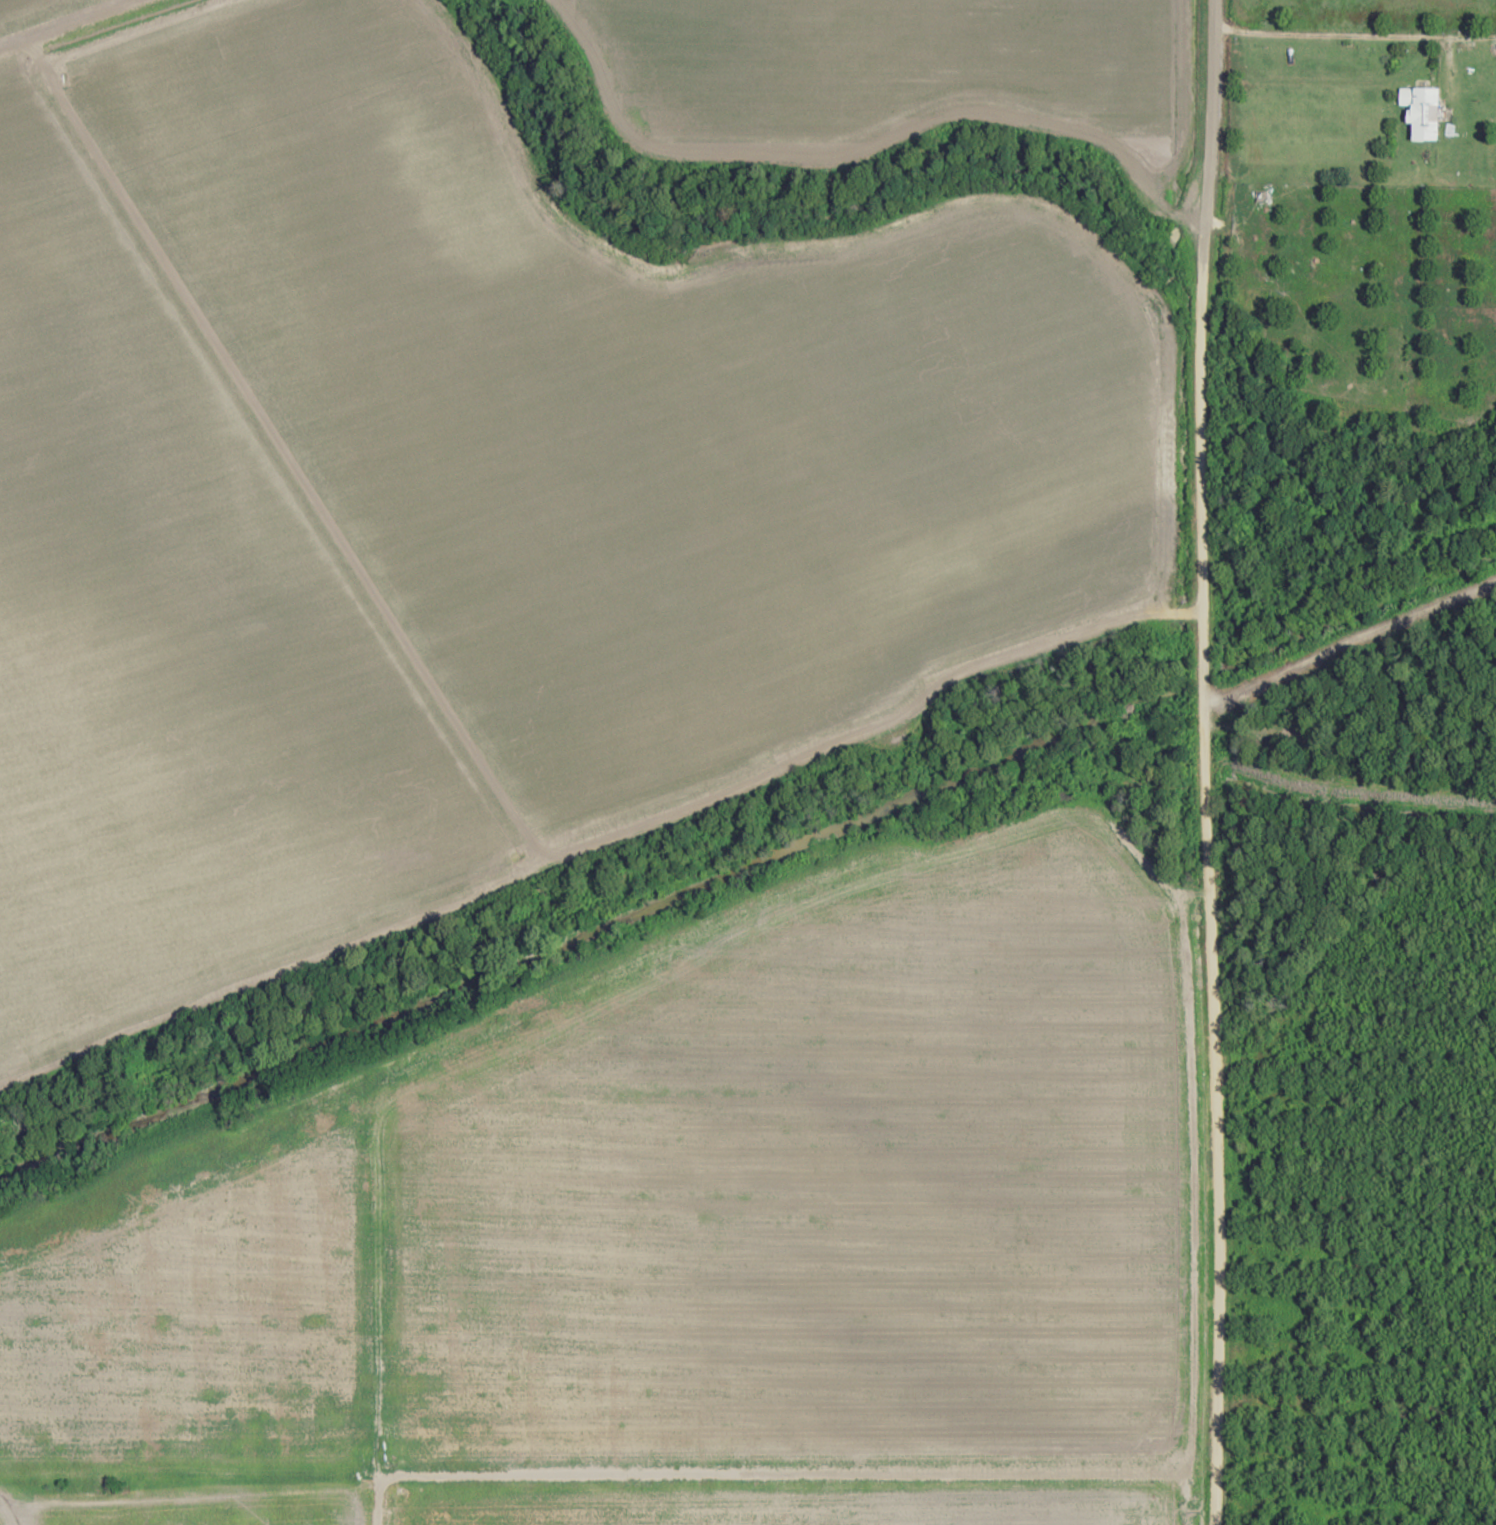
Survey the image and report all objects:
road: (63, 22)
road: (1348, 32)
building: (1422, 112)
road: (1207, 762)
road: (603, 846)

